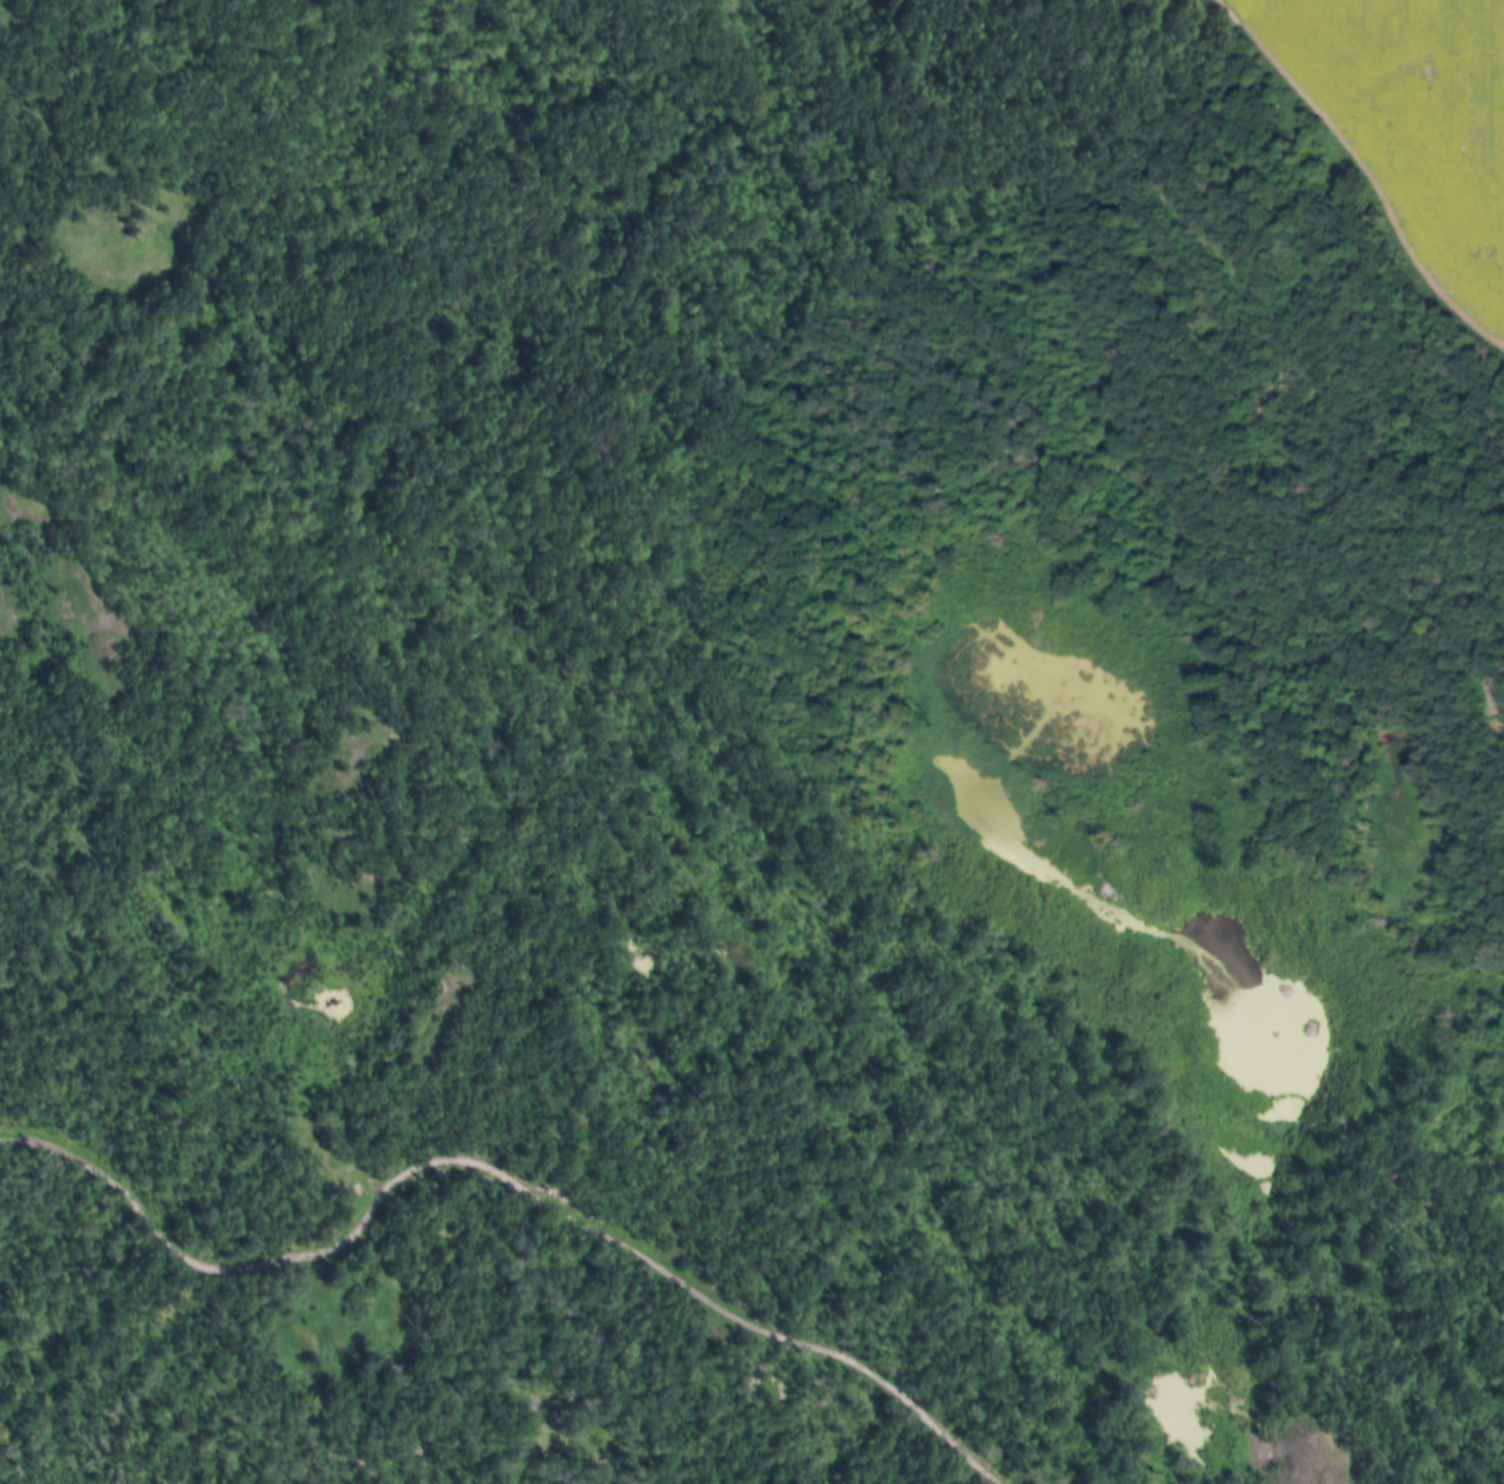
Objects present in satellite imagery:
road: (512, 1177)

